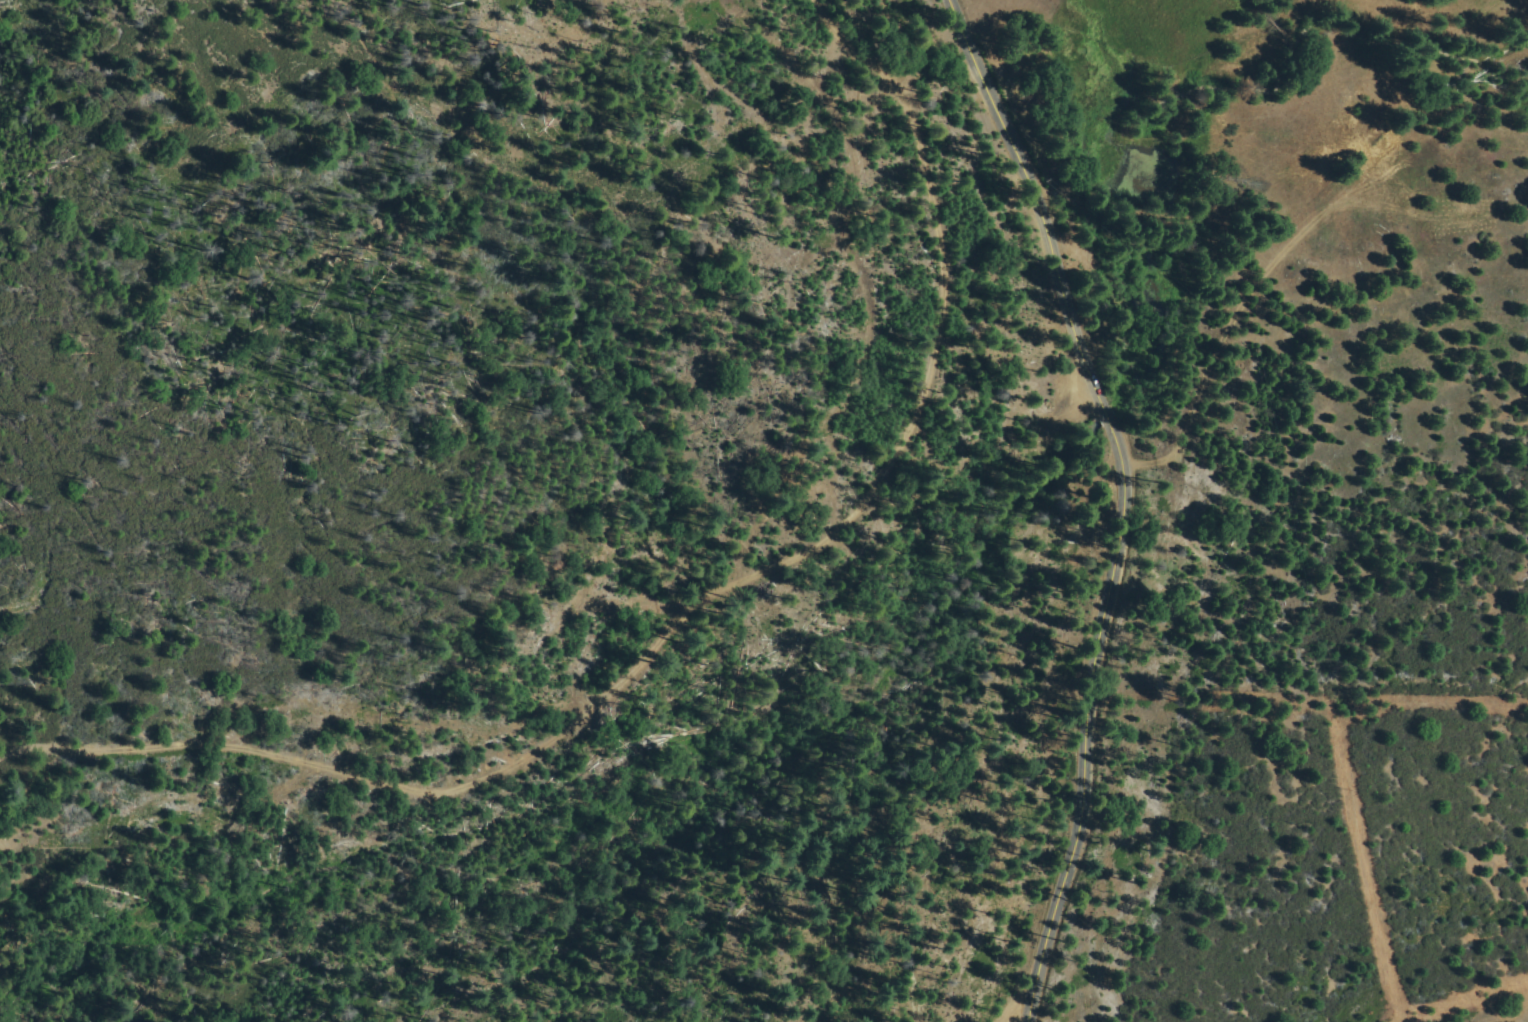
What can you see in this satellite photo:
road: (1131, 501)
road: (683, 617)

